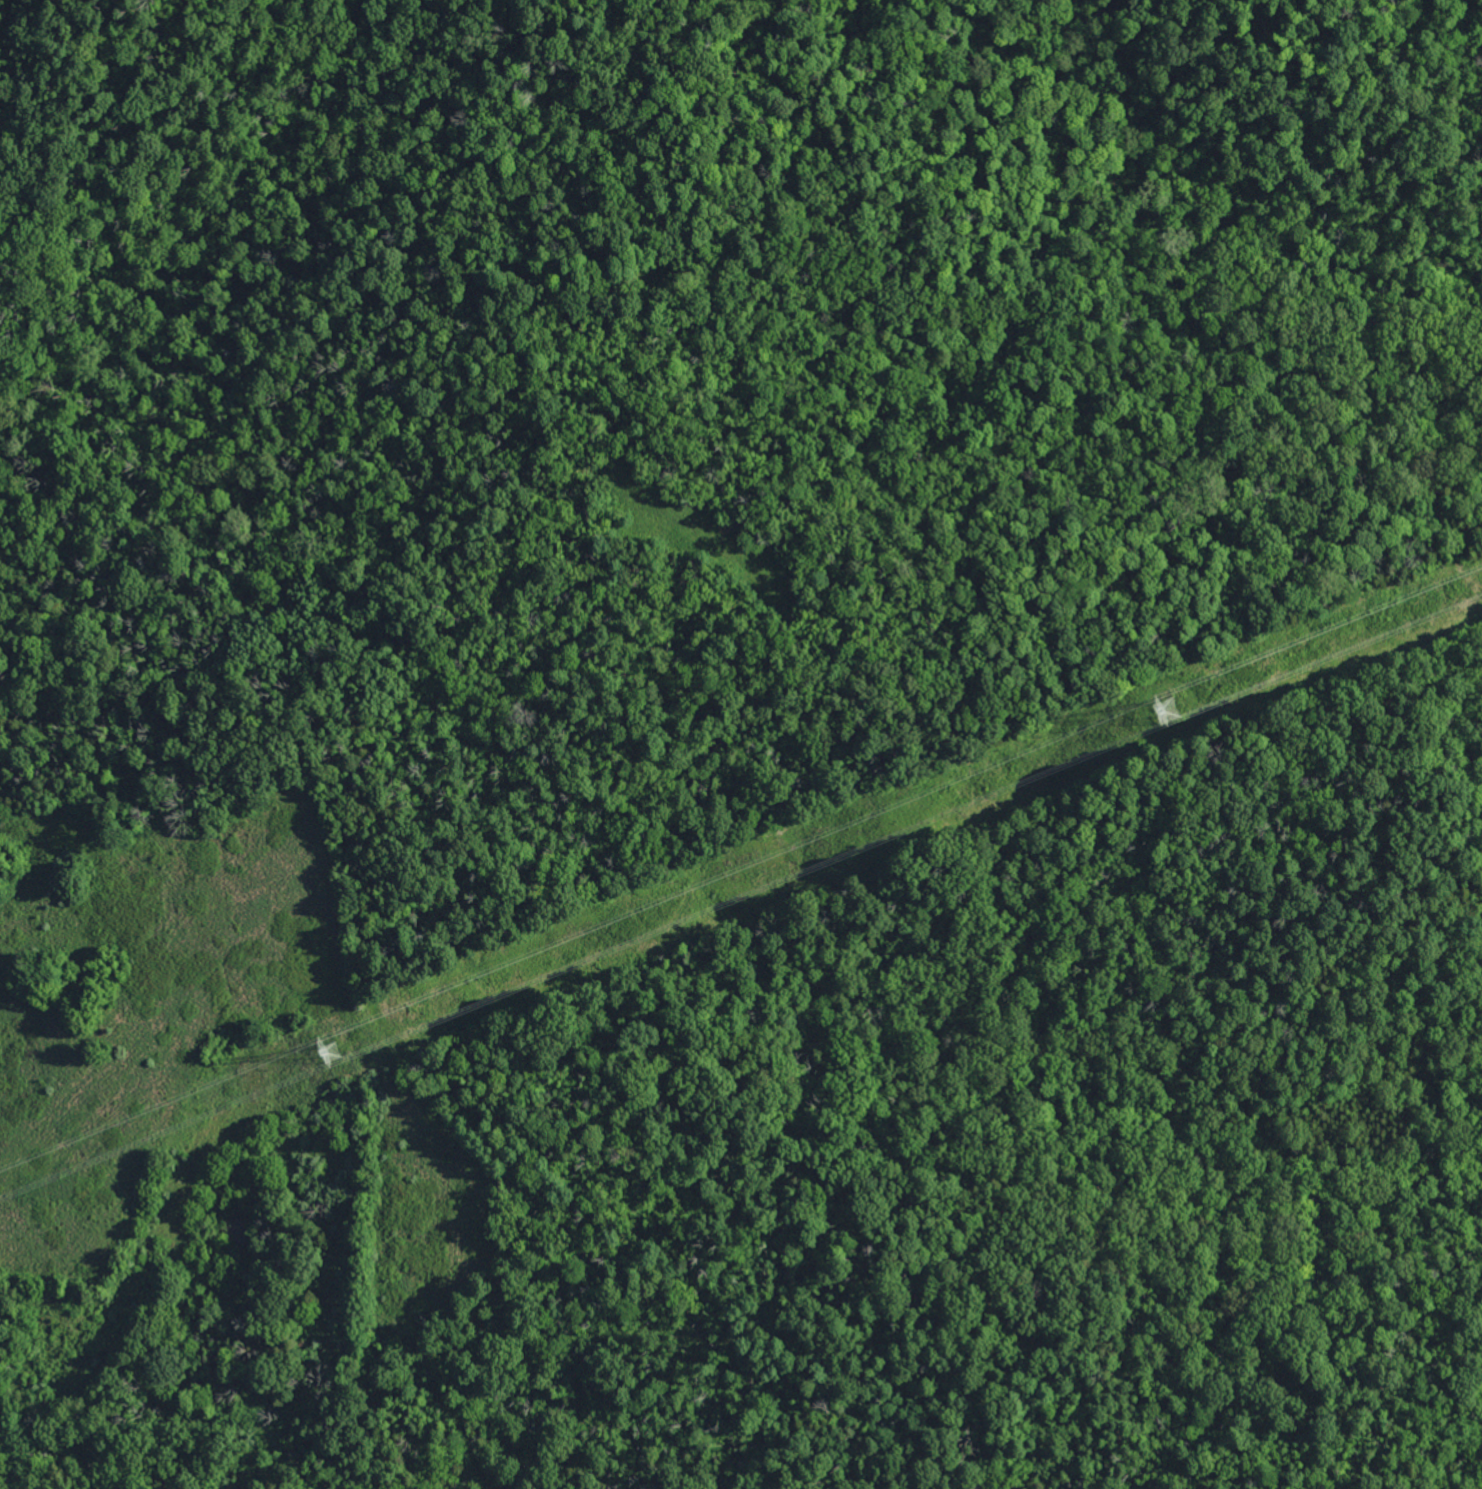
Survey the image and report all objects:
power tower: (1167, 711)
power tower: (330, 1054)

